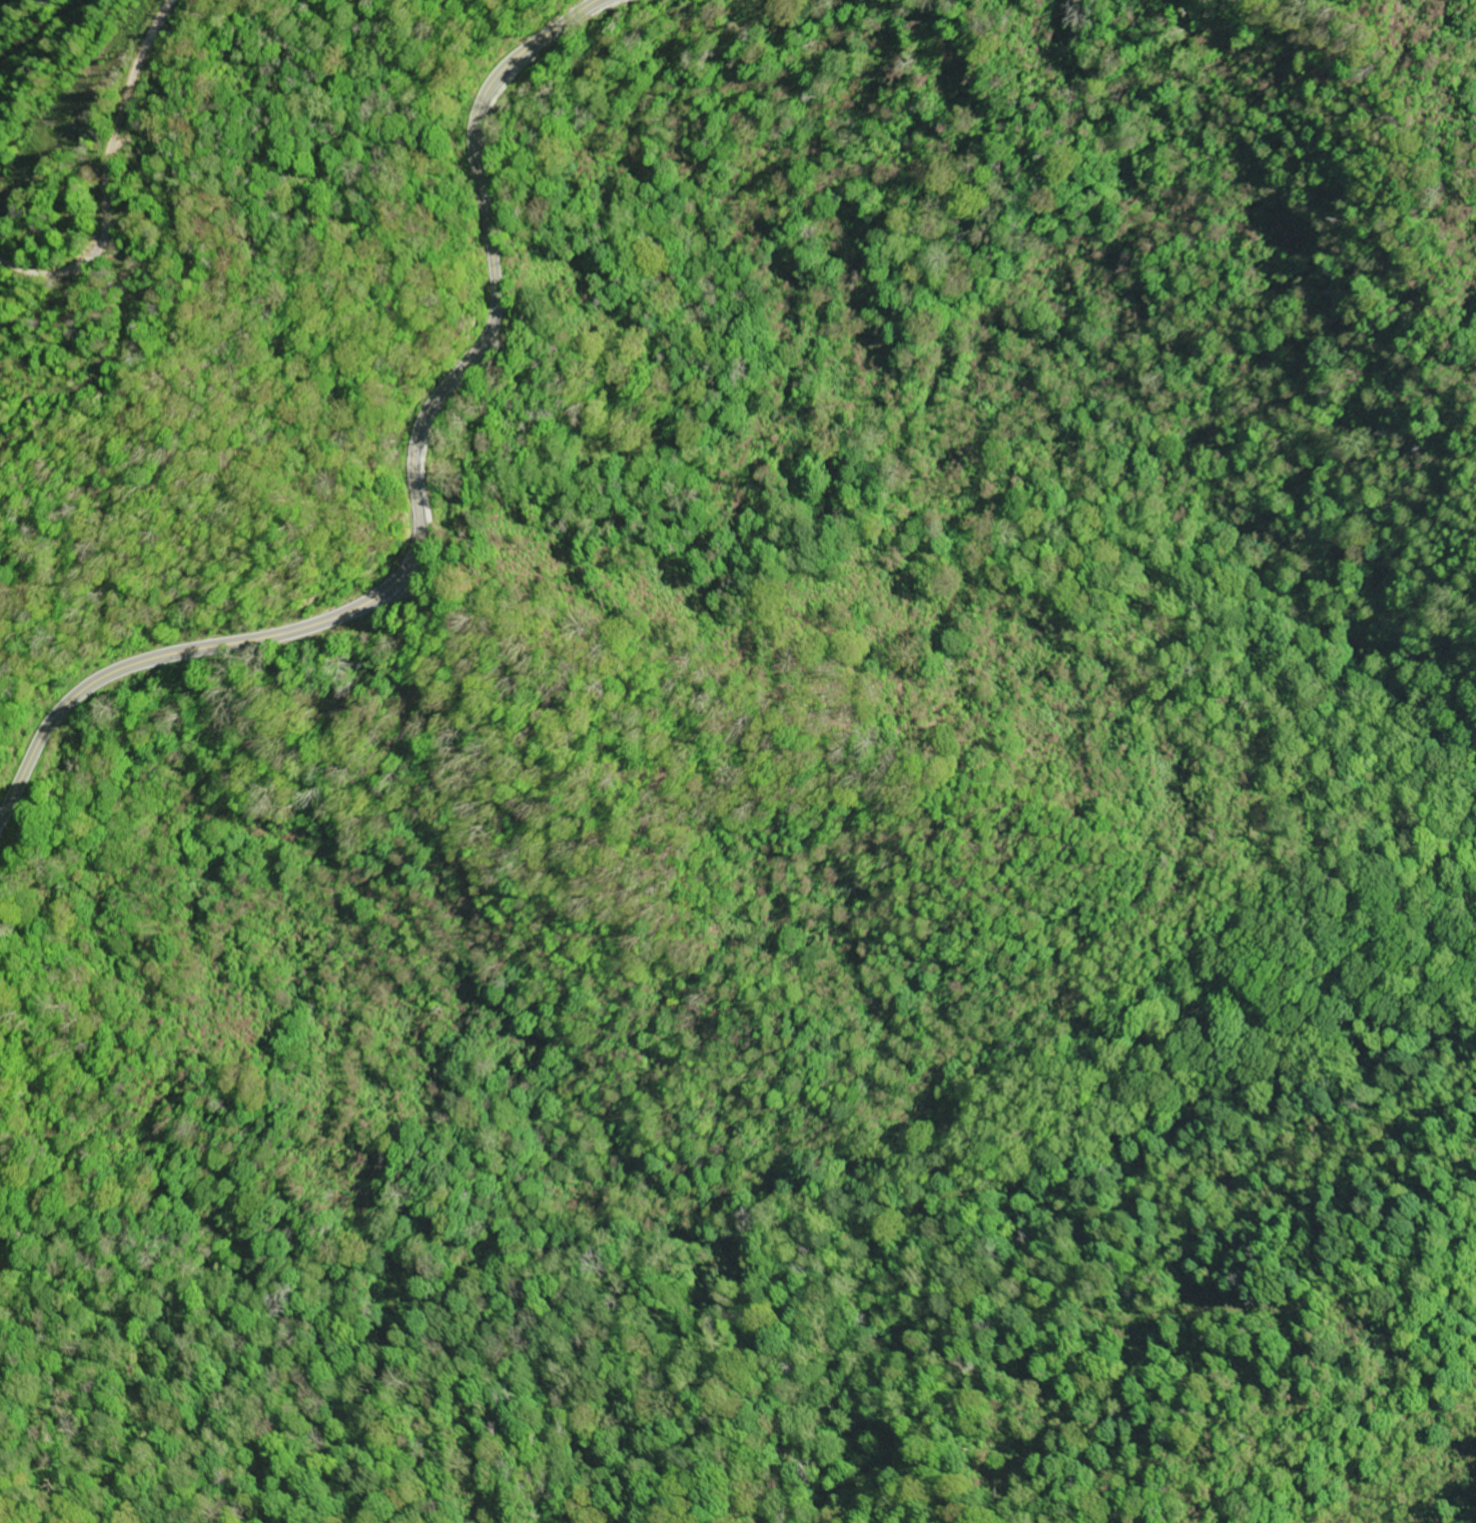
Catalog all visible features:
road: (103, 175)
road: (415, 500)

